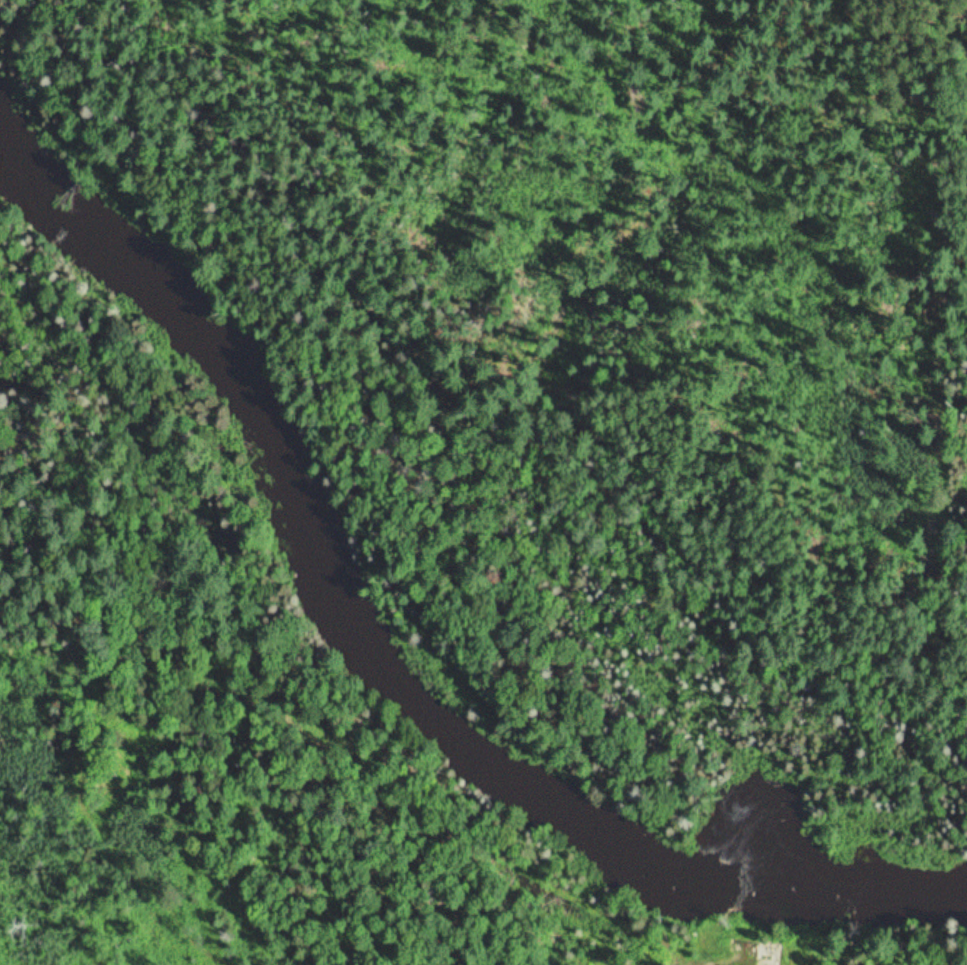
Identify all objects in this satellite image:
river: (387, 638)

